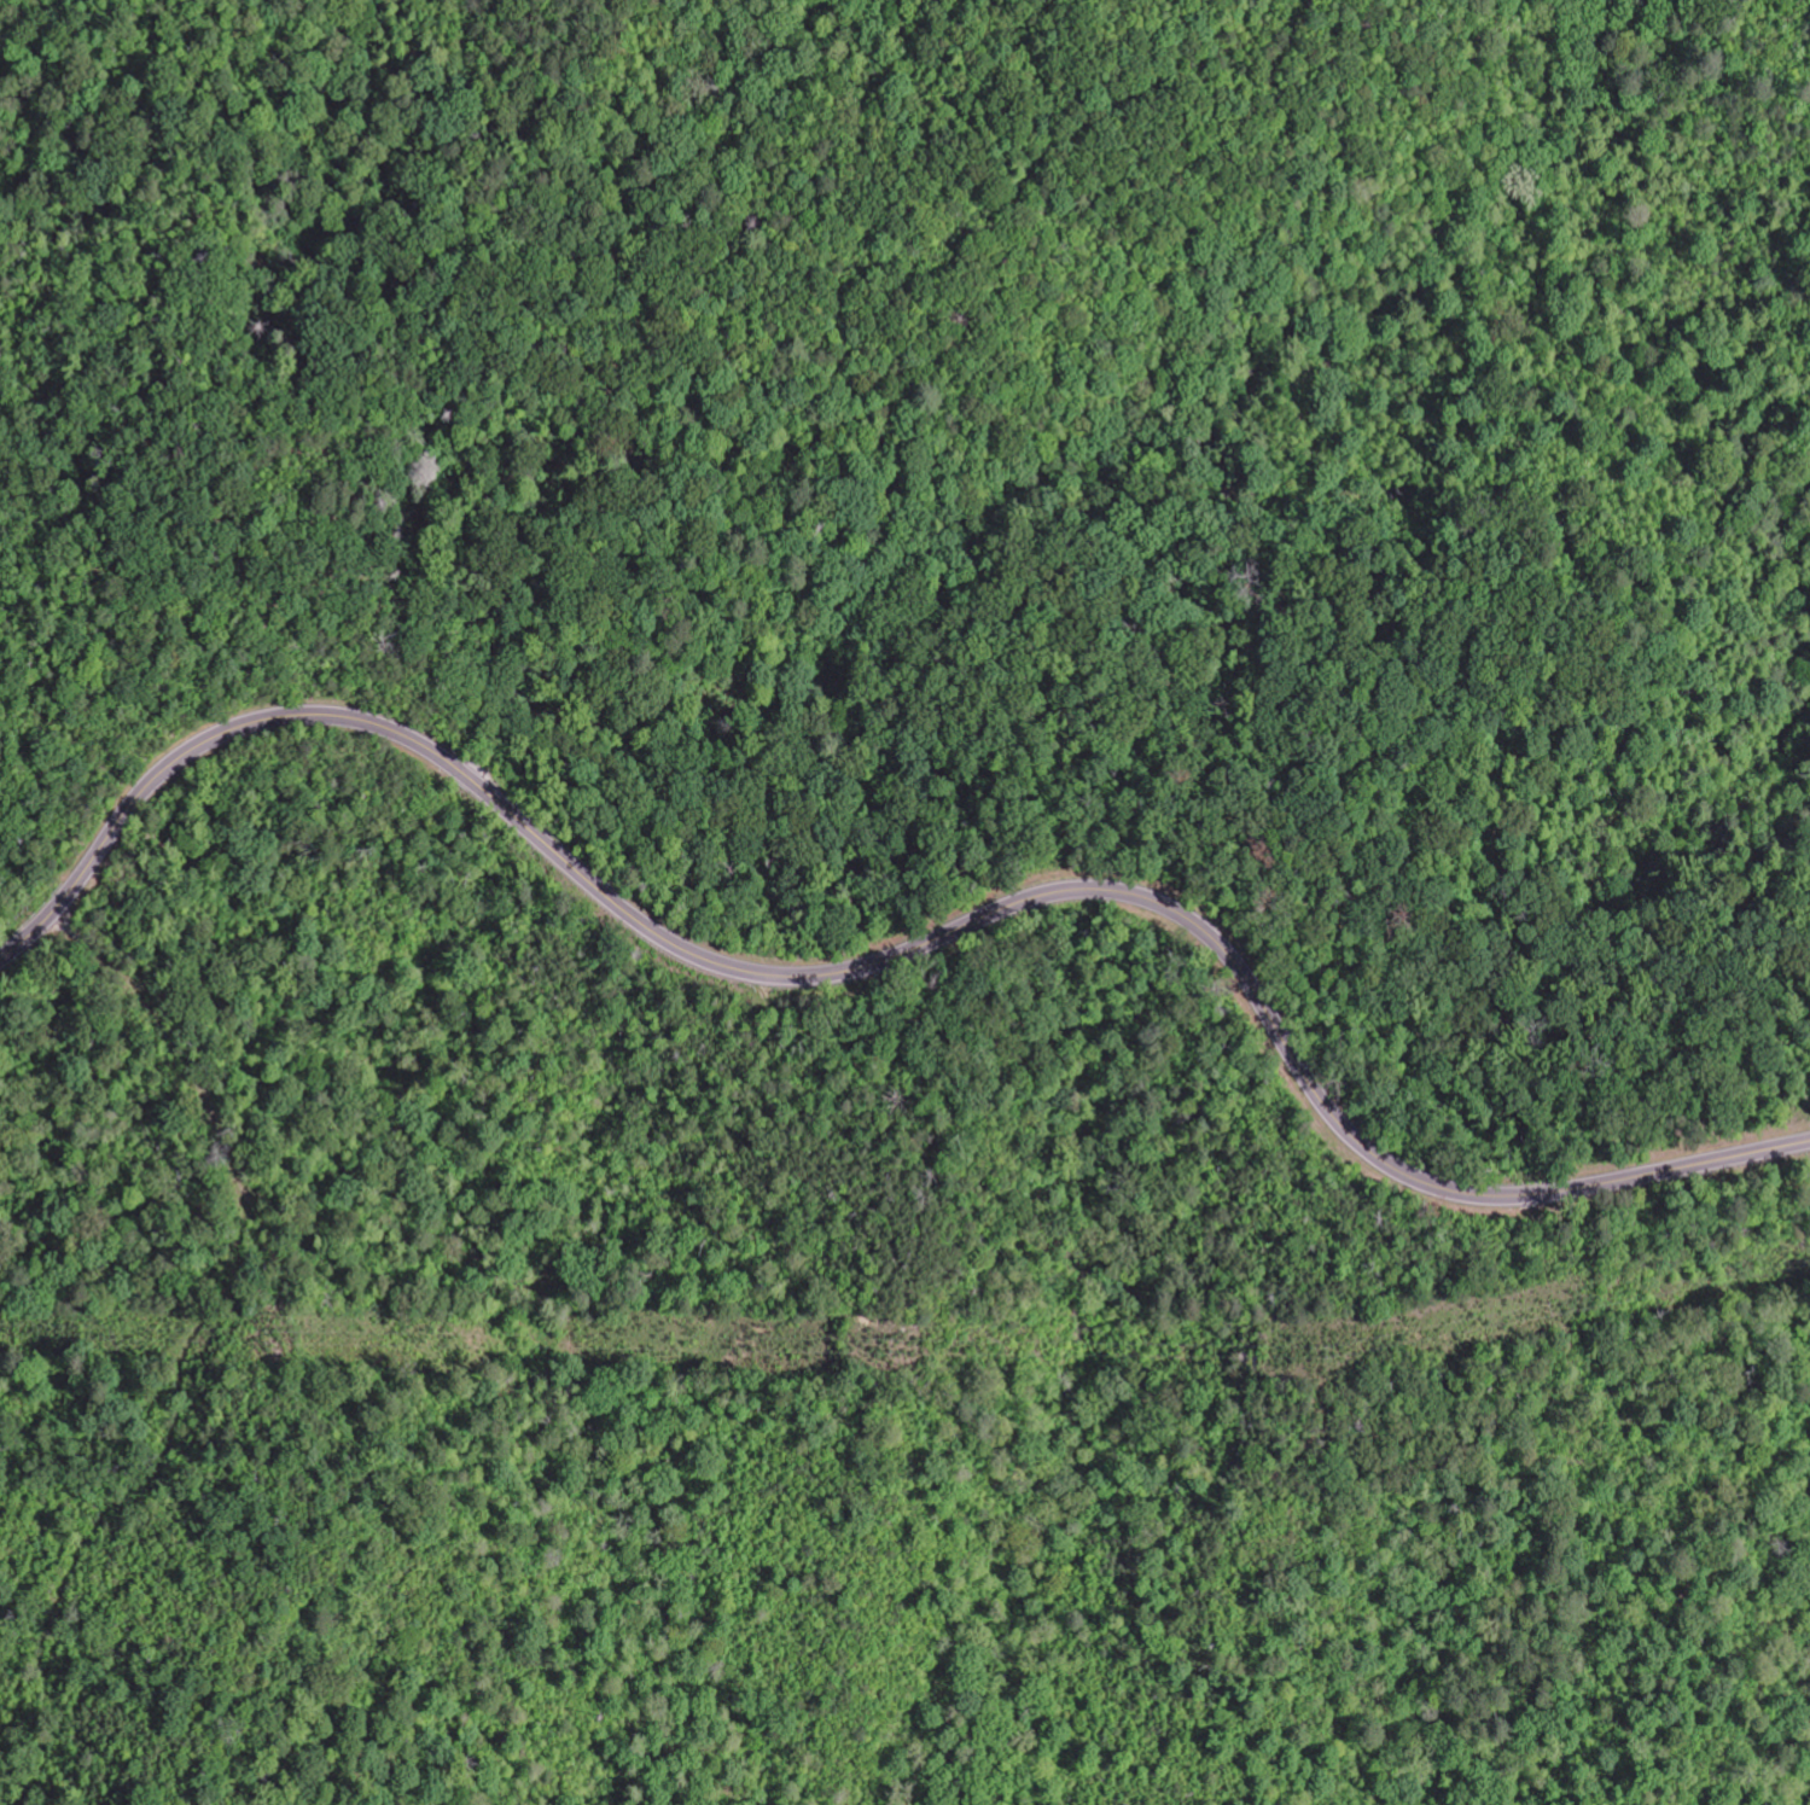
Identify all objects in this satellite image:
road: (885, 960)

